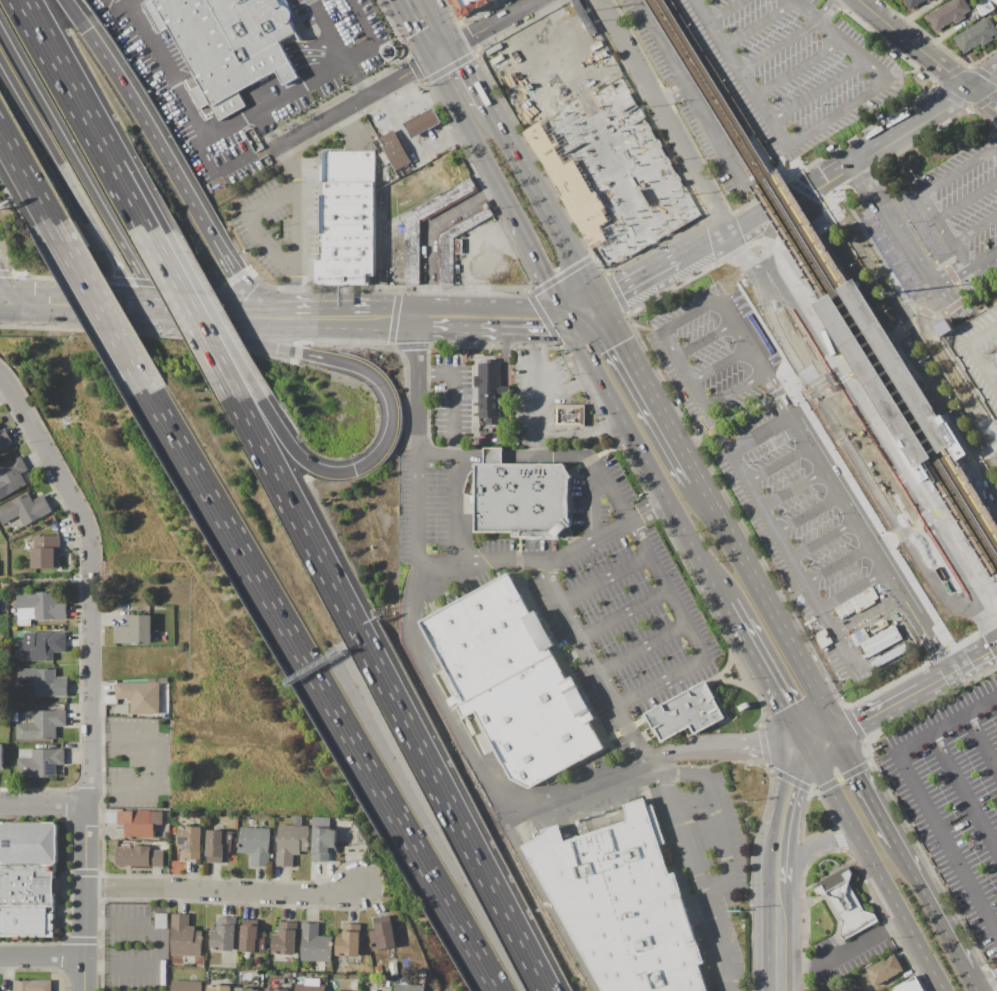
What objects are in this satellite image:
building: (929, 0)
building: (995, 1)
road: (134, 3)
building: (913, 3)
road: (116, 6)
building: (468, 6)
building: (984, 7)
road: (724, 11)
road: (826, 11)
building: (948, 13)
road: (77, 15)
road: (881, 15)
road: (442, 23)
road: (499, 23)
road: (760, 25)
road: (414, 30)
road: (331, 31)
building: (976, 35)
building: (229, 45)
road: (778, 46)
traffic signals: (455, 47)
road: (921, 48)
road: (100, 51)
road: (443, 53)
traffic signals: (431, 60)
road: (57, 63)
parking lot: (791, 69)
road: (798, 69)
road: (471, 75)
road: (956, 77)
road: (358, 79)
road: (984, 80)
road: (312, 81)
road: (818, 91)
road: (670, 94)
road: (688, 94)
parking lot: (693, 95)
road: (984, 97)
road: (185, 103)
road: (356, 103)
parking lot: (579, 110)
road: (933, 113)
road: (664, 115)
building: (423, 123)
road: (816, 127)
road: (473, 139)
building: (395, 150)
road: (875, 151)
building: (384, 158)
road: (76, 163)
building: (576, 171)
road: (25, 174)
road: (118, 178)
road: (68, 180)
road: (134, 180)
road: (947, 180)
road: (827, 182)
road: (189, 201)
road: (543, 202)
road: (789, 202)
road: (967, 202)
road: (298, 204)
parking lot: (959, 207)
road: (746, 220)
building: (348, 221)
road: (839, 222)
road: (259, 225)
road: (281, 225)
road: (431, 228)
road: (976, 230)
road: (945, 234)
road: (768, 237)
building: (457, 244)
road: (695, 248)
parking lot: (892, 253)
building: (411, 254)
road: (740, 254)
road: (961, 255)
road: (982, 262)
road: (538, 263)
road: (920, 270)
railway: (829, 272)
road: (949, 277)
road: (638, 279)
railway: (823, 281)
road: (6, 283)
road: (899, 284)
road: (7, 295)
traffic signals: (15, 295)
road: (76, 299)
traffic signals: (600, 301)
traffic signals: (137, 304)
road: (145, 304)
road: (26, 305)
traffic signals: (153, 305)
road: (581, 305)
road: (99, 306)
road: (489, 307)
road: (219, 308)
road: (341, 308)
road: (405, 308)
traffic signals: (562, 309)
road: (584, 311)
road: (142, 314)
road: (188, 314)
road: (158, 315)
road: (565, 315)
road: (689, 315)
road: (18, 316)
traffic signals: (37, 316)
road: (92, 320)
road: (628, 320)
traffic signals: (569, 322)
road: (908, 323)
traffic signals: (148, 324)
road: (156, 324)
road: (217, 324)
traffic signals: (164, 325)
building: (946, 327)
road: (289, 328)
road: (781, 330)
road: (423, 331)
road: (501, 331)
road: (740, 336)
road: (704, 340)
road: (901, 345)
road: (867, 347)
parking lot: (717, 351)
building: (979, 352)
parking lot: (979, 352)
road: (874, 355)
railway: (886, 355)
road: (830, 359)
road: (719, 365)
road: (818, 367)
road: (683, 369)
building: (885, 374)
road: (806, 375)
railway: (877, 379)
road: (416, 381)
road: (969, 383)
road: (791, 384)
road: (648, 390)
road: (733, 390)
road: (953, 393)
road: (775, 394)
road: (776, 395)
road: (390, 396)
building: (490, 396)
road: (831, 409)
road: (924, 409)
road: (907, 410)
road: (744, 412)
road: (512, 413)
building: (571, 415)
road: (873, 426)
road: (713, 429)
road: (714, 430)
road: (760, 434)
building: (4, 439)
road: (693, 440)
road: (46, 446)
road: (985, 453)
road: (470, 457)
road: (493, 458)
road: (551, 459)
road: (646, 464)
road: (778, 464)
building: (12, 477)
road: (904, 478)
road: (878, 485)
road: (793, 488)
building: (521, 496)
building: (25, 511)
road: (808, 514)
road: (630, 519)
road: (919, 522)
road: (823, 538)
parking lot: (829, 541)
road: (882, 543)
road: (586, 544)
road: (870, 545)
building: (46, 552)
road: (792, 558)
road: (457, 563)
road: (838, 563)
road: (604, 580)
road: (937, 580)
road: (549, 584)
road: (48, 587)
road: (853, 589)
road: (975, 595)
building: (43, 605)
parking lot: (617, 605)
road: (768, 606)
road: (868, 613)
road: (623, 615)
road: (988, 615)
road: (570, 623)
building: (136, 630)
building: (487, 637)
building: (882, 640)
building: (39, 646)
road: (993, 650)
road: (589, 658)
road: (627, 659)
road: (698, 660)
road: (961, 667)
road: (769, 677)
building: (45, 682)
road: (322, 690)
road: (389, 695)
building: (140, 696)
road: (840, 698)
road: (447, 701)
road: (886, 708)
building: (687, 713)
building: (533, 723)
building: (43, 725)
traffic signals: (839, 734)
road: (825, 742)
road: (982, 742)
traffic signals: (812, 750)
building: (1, 756)
road: (671, 756)
road: (93, 757)
building: (40, 762)
road: (150, 762)
road: (869, 788)
road: (965, 793)
road: (920, 797)
road: (46, 805)
parking lot: (956, 805)
road: (785, 814)
road: (712, 818)
building: (140, 822)
building: (521, 828)
building: (323, 840)
building: (292, 841)
building: (190, 842)
building: (29, 843)
building: (255, 843)
building: (218, 845)
road: (814, 849)
building: (139, 856)
parking lot: (709, 868)
road: (878, 870)
road: (697, 881)
building: (29, 886)
road: (225, 892)
building: (846, 903)
building: (622, 904)
road: (934, 906)
building: (161, 921)
building: (26, 922)
building: (383, 935)
building: (224, 936)
building: (185, 938)
road: (777, 938)
building: (285, 939)
building: (251, 941)
building: (349, 941)
building: (316, 946)
road: (159, 948)
road: (840, 948)
road: (44, 958)
building: (379, 970)
building: (885, 970)
building: (162, 972)
building: (394, 972)
building: (422, 974)
road: (974, 980)
building: (255, 981)
road: (988, 982)
building: (33, 985)
building: (186, 985)
building: (910, 985)
building: (310, 987)
building: (408, 987)
building: (219, 988)
building: (247, 989)
building: (276, 989)

